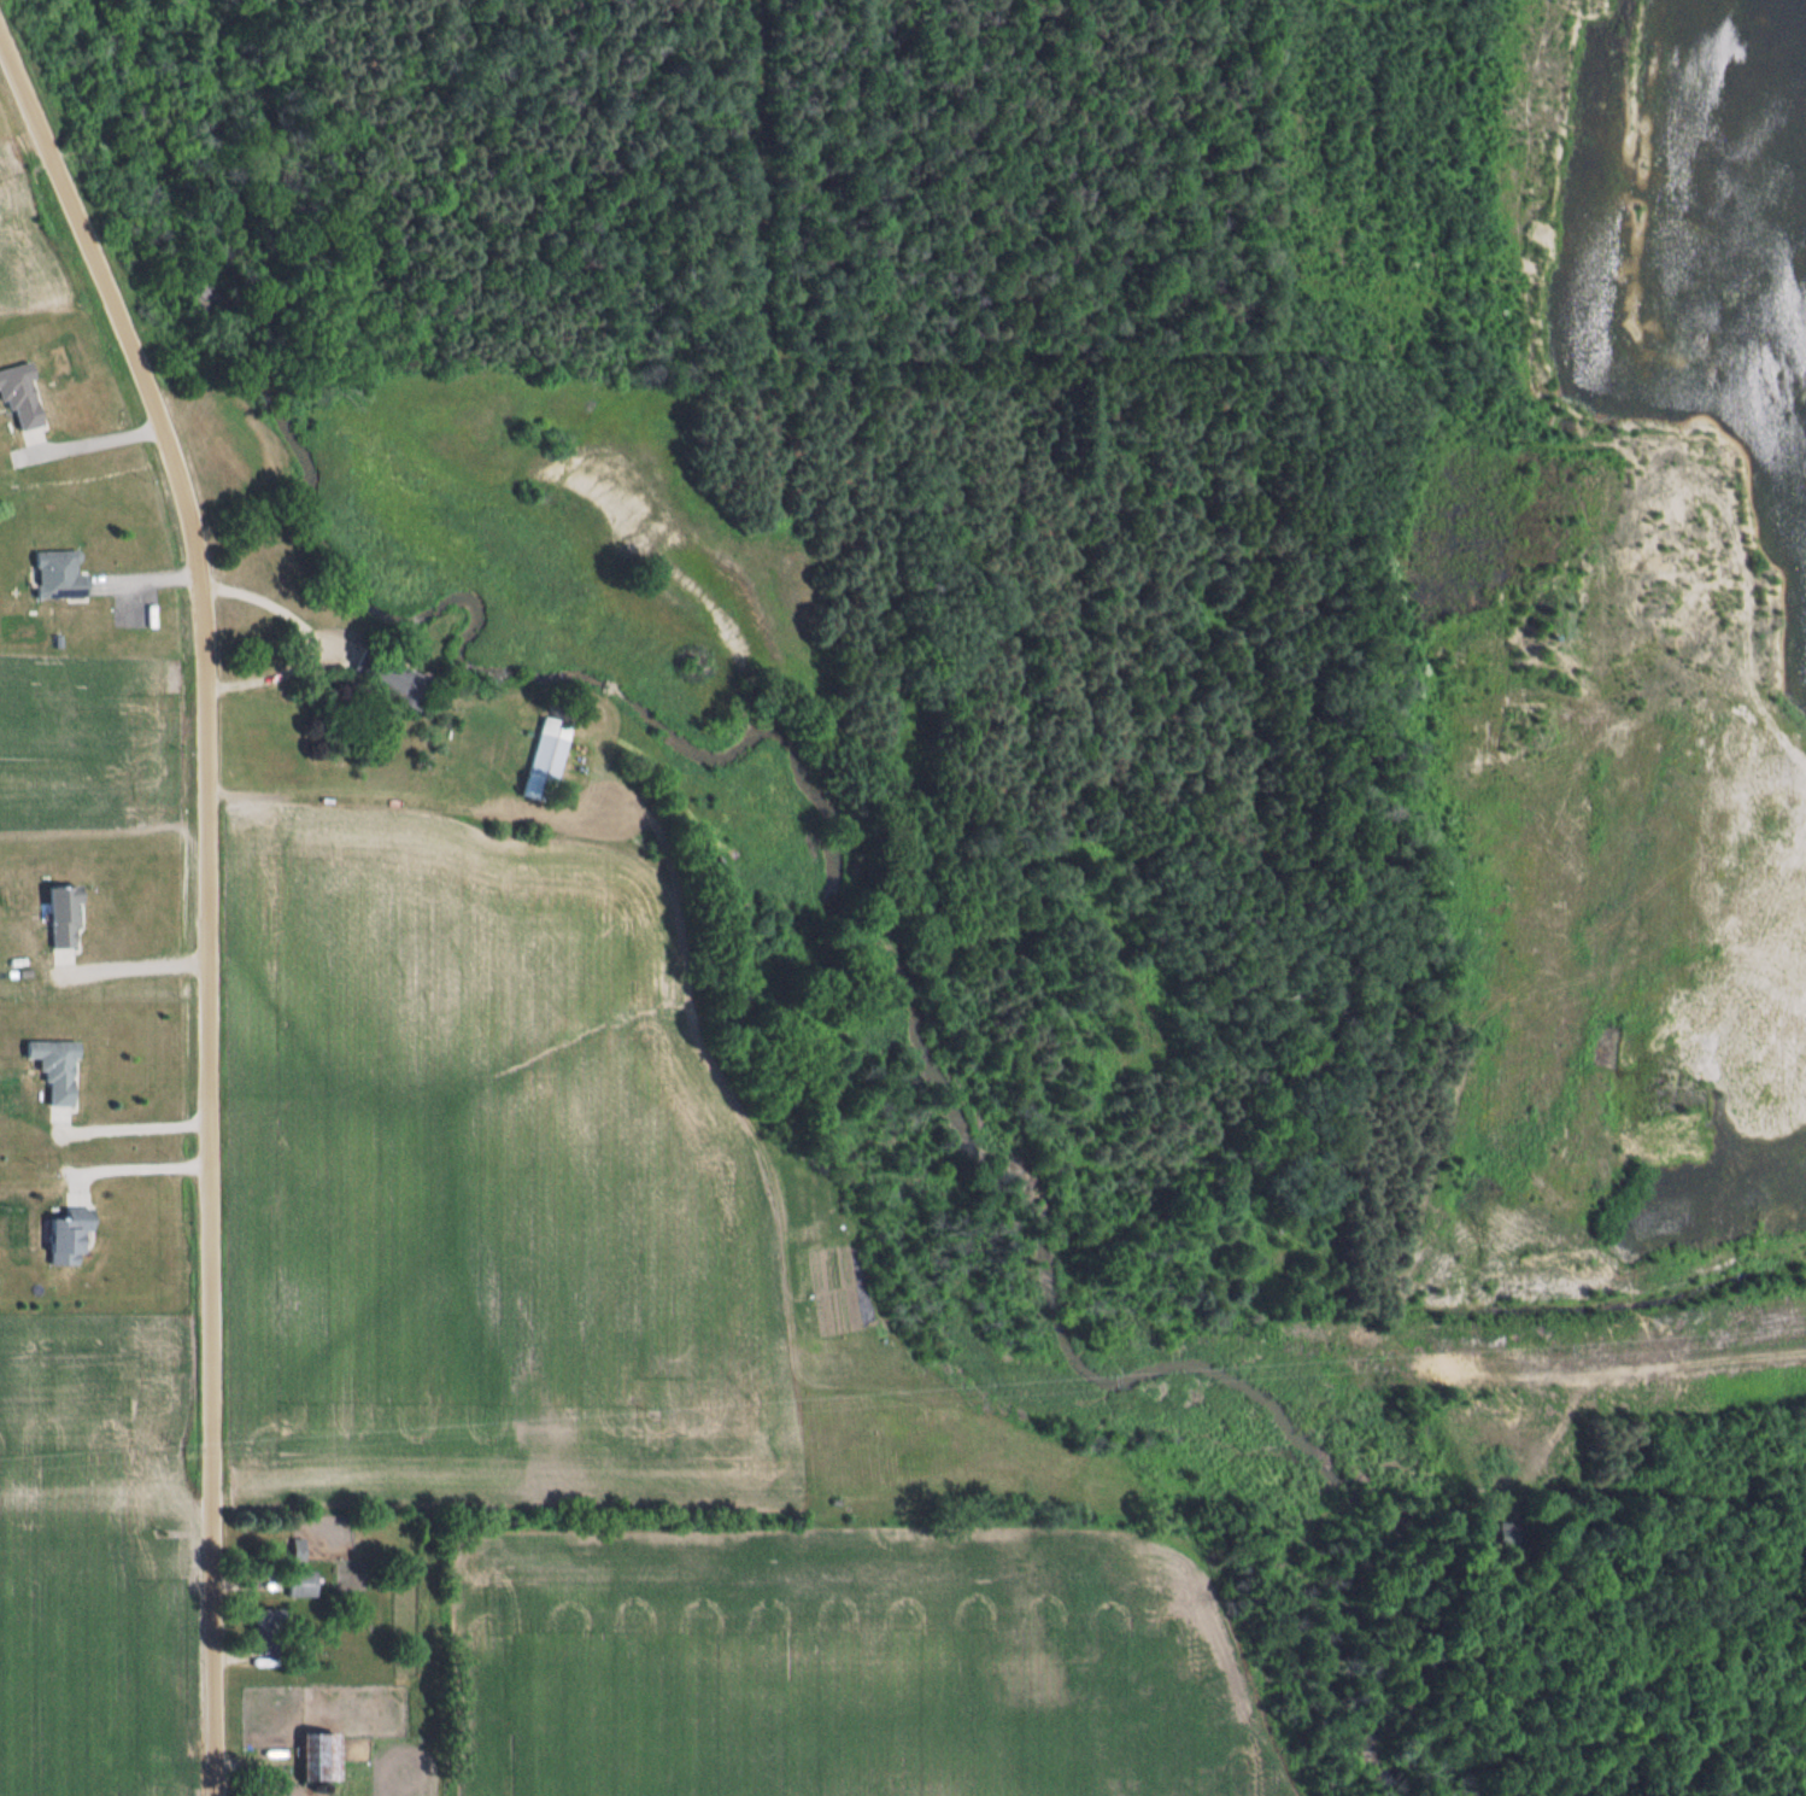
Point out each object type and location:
building: (20, 396)
building: (59, 575)
building: (392, 678)
building: (549, 760)
road: (207, 899)
building: (64, 919)
road: (135, 965)
building: (57, 1071)
road: (135, 1125)
building: (69, 1238)
building: (303, 1585)
building: (269, 1619)
building: (321, 1760)

